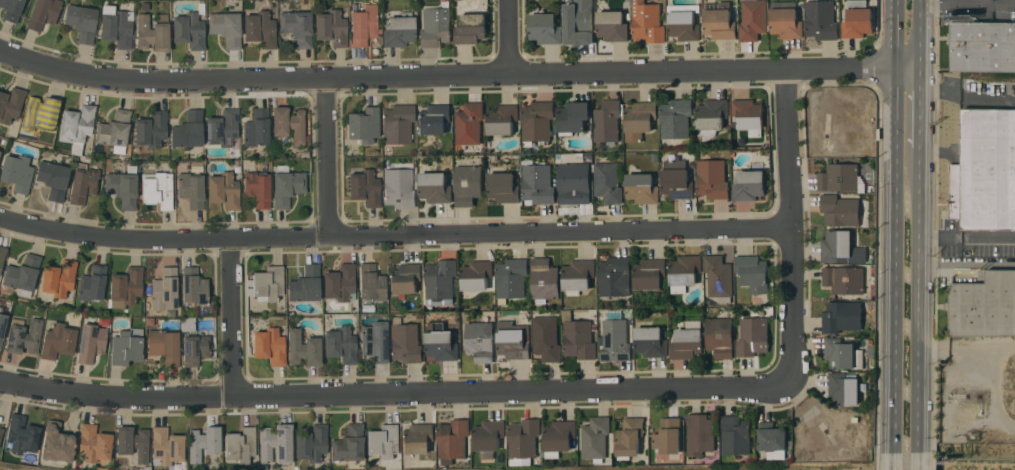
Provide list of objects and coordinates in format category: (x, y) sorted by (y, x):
road: (968, 3)
building: (11, 9)
building: (43, 13)
building: (753, 19)
building: (785, 20)
building: (820, 20)
building: (82, 21)
building: (683, 21)
building: (719, 21)
building: (858, 21)
building: (647, 22)
building: (578, 23)
building: (364, 24)
building: (435, 25)
building: (116, 26)
building: (297, 26)
building: (613, 26)
building: (226, 27)
building: (331, 27)
building: (470, 28)
building: (544, 28)
building: (260, 29)
building: (189, 30)
building: (399, 31)
building: (152, 33)
road: (921, 33)
road: (509, 38)
building: (982, 46)
road: (458, 77)
road: (966, 99)
building: (11, 103)
road: (919, 106)
building: (41, 113)
building: (748, 116)
building: (572, 117)
building: (710, 117)
building: (675, 118)
building: (433, 119)
building: (502, 119)
building: (638, 120)
building: (607, 121)
building: (537, 122)
building: (289, 123)
building: (398, 123)
building: (468, 123)
building: (363, 124)
building: (77, 125)
building: (151, 128)
building: (256, 128)
building: (188, 129)
building: (223, 129)
building: (115, 130)
road: (330, 158)
building: (985, 171)
building: (17, 172)
building: (838, 177)
building: (53, 179)
building: (587, 179)
building: (712, 179)
building: (676, 180)
building: (537, 182)
building: (83, 184)
building: (468, 184)
building: (748, 185)
building: (123, 186)
building: (286, 187)
building: (365, 187)
building: (399, 187)
building: (502, 187)
building: (257, 188)
building: (435, 188)
building: (641, 188)
building: (158, 189)
building: (191, 189)
building: (224, 189)
building: (841, 211)
road: (895, 227)
road: (790, 229)
road: (394, 236)
road: (967, 237)
building: (840, 248)
building: (2, 255)
building: (683, 272)
building: (752, 273)
building: (649, 274)
building: (21, 275)
building: (476, 275)
building: (577, 276)
building: (614, 276)
building: (58, 277)
building: (718, 277)
building: (404, 278)
building: (511, 278)
building: (843, 279)
building: (544, 280)
building: (340, 282)
building: (371, 282)
building: (440, 282)
building: (92, 283)
building: (268, 283)
building: (305, 284)
building: (126, 286)
building: (194, 286)
building: (164, 288)
road: (919, 300)
building: (983, 305)
building: (841, 316)
road: (234, 319)
building: (2, 320)
building: (24, 337)
building: (577, 337)
building: (719, 337)
building: (752, 337)
building: (545, 338)
building: (614, 338)
building: (58, 340)
building: (512, 340)
building: (687, 340)
building: (374, 341)
building: (405, 341)
building: (479, 341)
building: (650, 341)
building: (90, 342)
building: (193, 342)
building: (440, 342)
road: (954, 343)
building: (341, 344)
building: (164, 345)
building: (269, 345)
building: (126, 346)
building: (303, 348)
building: (842, 354)
building: (843, 388)
road: (395, 397)
building: (1, 431)
building: (701, 434)
building: (488, 435)
building: (736, 435)
building: (22, 436)
building: (669, 436)
building: (559, 437)
building: (630, 437)
building: (417, 438)
building: (595, 438)
building: (773, 439)
building: (383, 440)
building: (452, 440)
building: (523, 441)
building: (57, 442)
building: (94, 442)
building: (133, 442)
building: (203, 442)
building: (276, 443)
building: (311, 443)
building: (240, 444)
building: (349, 444)
building: (167, 446)
road: (893, 462)
road: (918, 462)

